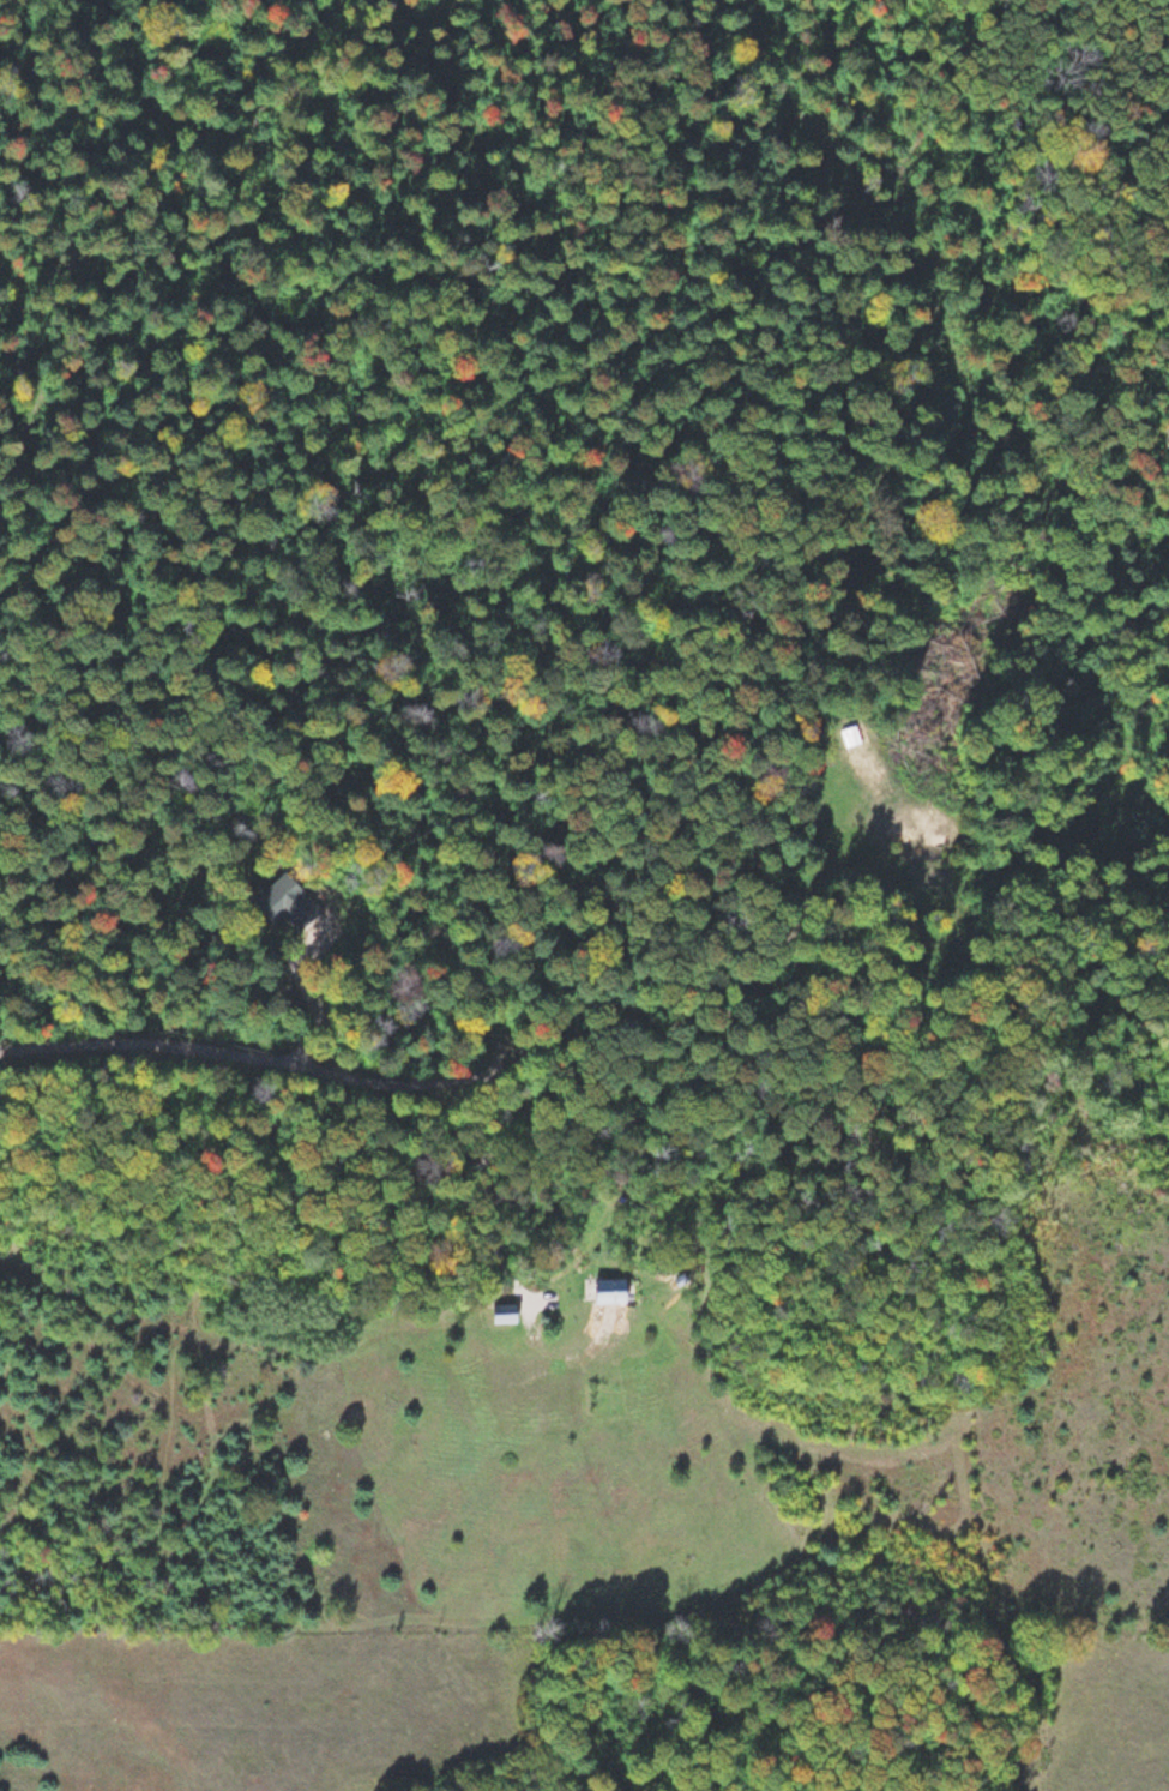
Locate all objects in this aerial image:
building: (851, 733)
building: (273, 896)
road: (188, 1048)
building: (603, 1290)
building: (499, 1312)

